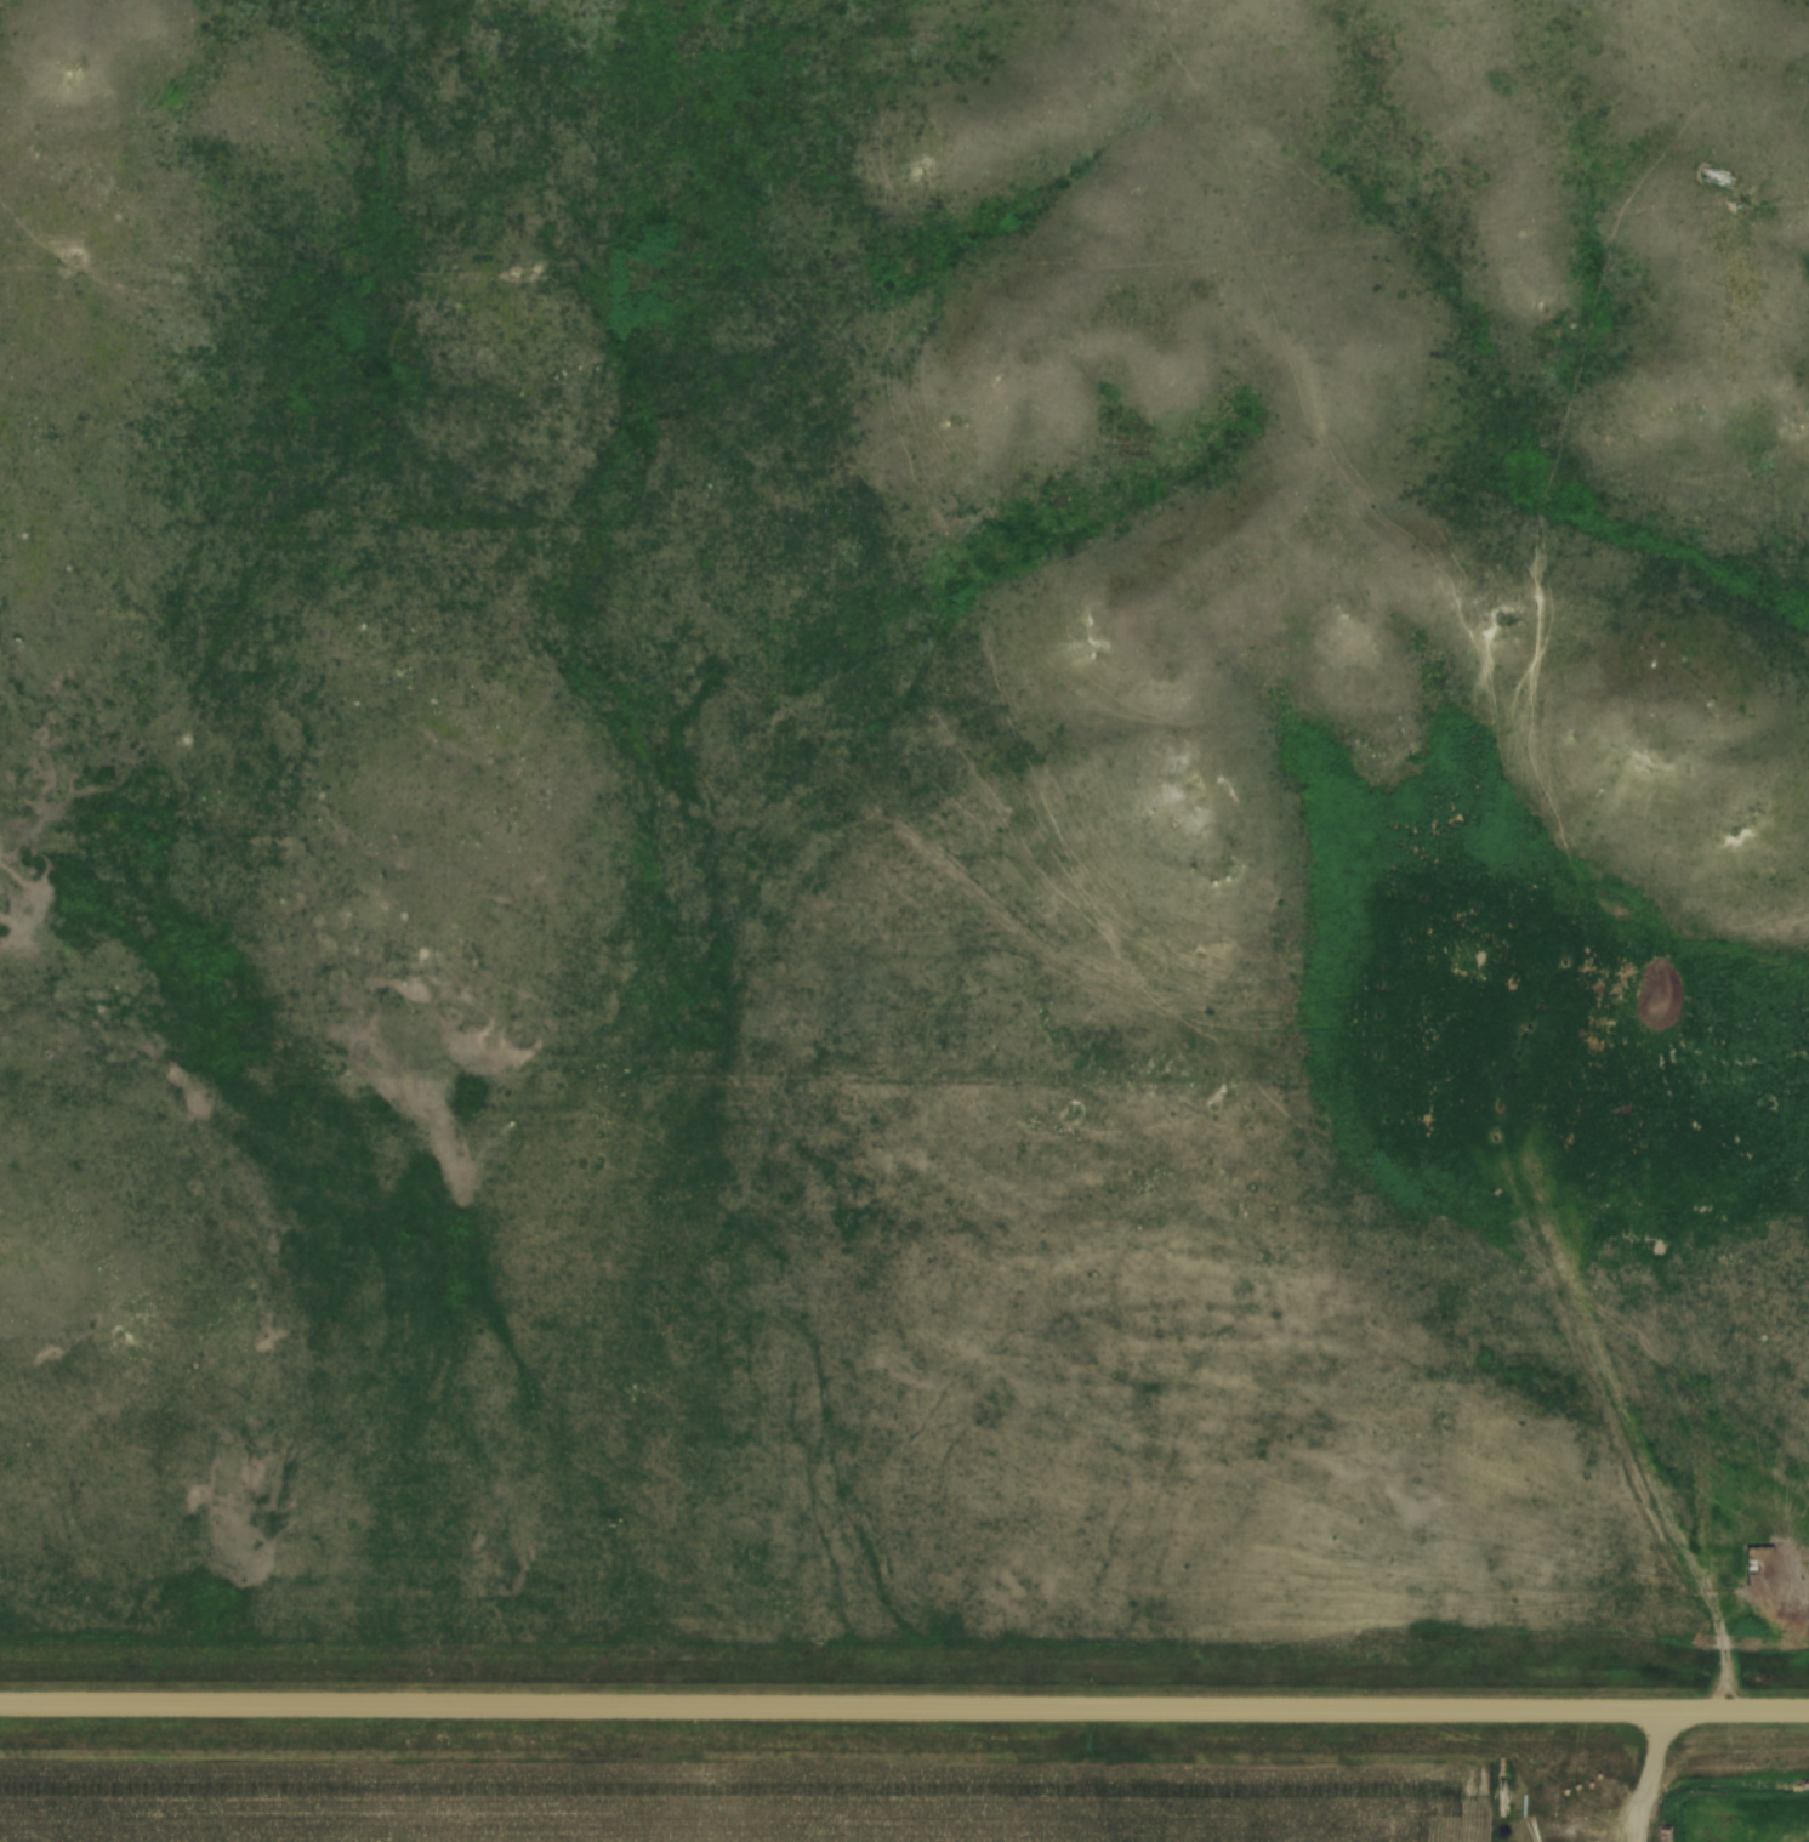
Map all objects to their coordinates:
road: (904, 1707)
road: (1660, 1775)

